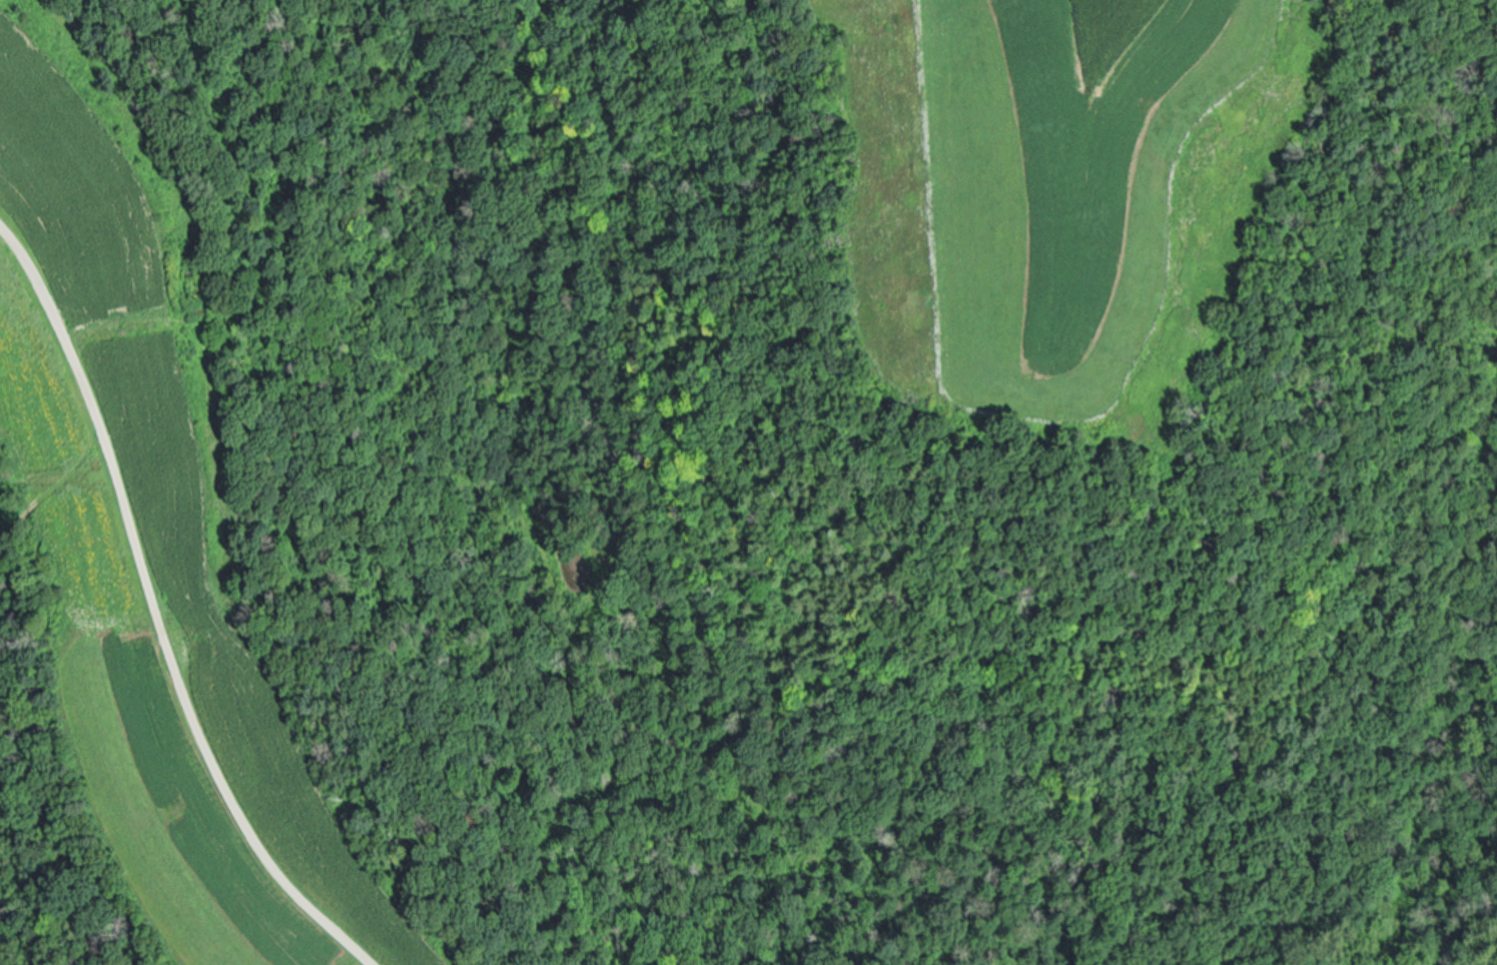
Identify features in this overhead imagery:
road: (157, 611)

